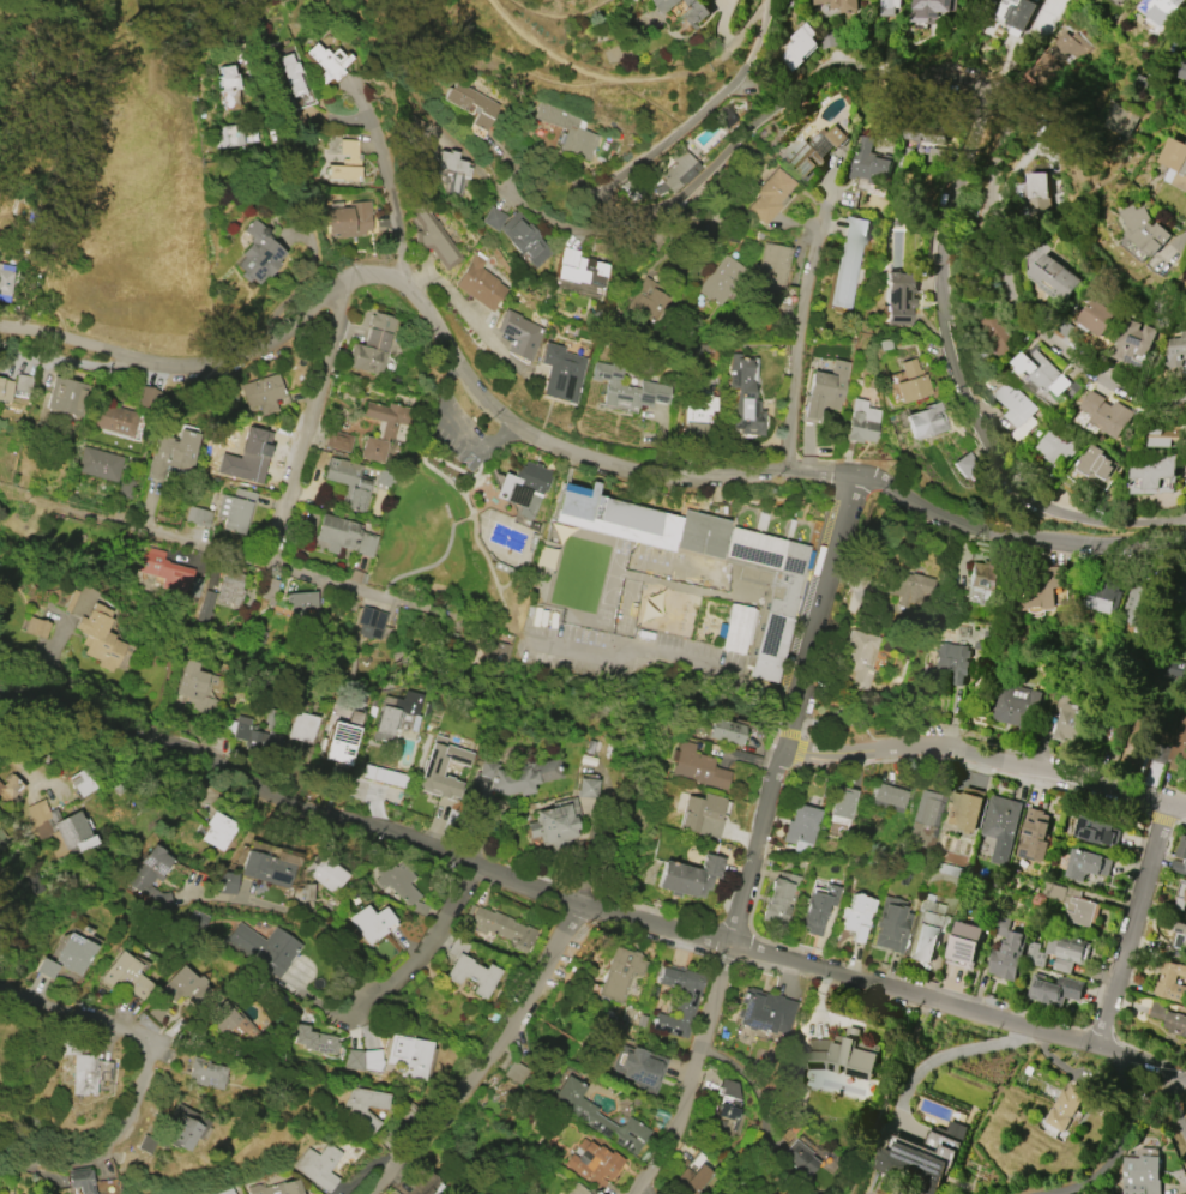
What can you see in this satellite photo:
building: (1126, 0)
building: (1157, 4)
building: (668, 5)
building: (841, 5)
building: (891, 7)
building: (933, 8)
building: (1015, 8)
building: (696, 13)
road: (559, 17)
road: (743, 29)
building: (797, 47)
building: (1056, 60)
building: (327, 62)
building: (1182, 71)
road: (595, 73)
road: (916, 76)
building: (290, 77)
building: (228, 88)
building: (470, 103)
building: (724, 116)
building: (1122, 121)
building: (413, 126)
building: (568, 132)
building: (227, 135)
building: (249, 135)
building: (935, 147)
building: (811, 150)
building: (868, 158)
building: (345, 163)
building: (1174, 163)
building: (450, 169)
building: (676, 169)
road: (387, 179)
building: (770, 197)
building: (1040, 197)
building: (492, 218)
building: (348, 219)
building: (1145, 229)
road: (1184, 234)
building: (433, 236)
building: (524, 239)
building: (258, 253)
building: (849, 259)
building: (578, 267)
building: (770, 269)
building: (1054, 278)
building: (5, 279)
building: (721, 279)
building: (478, 283)
road: (1011, 293)
building: (648, 295)
building: (899, 296)
road: (805, 309)
road: (466, 313)
building: (1095, 316)
building: (517, 333)
building: (998, 334)
building: (1131, 344)
building: (371, 345)
building: (1176, 354)
building: (559, 373)
building: (1042, 374)
building: (22, 382)
building: (911, 382)
building: (5, 388)
building: (626, 388)
building: (824, 391)
building: (1070, 391)
building: (261, 393)
building: (66, 397)
building: (743, 398)
building: (1016, 408)
building: (699, 411)
building: (1106, 414)
building: (113, 418)
road: (311, 421)
building: (923, 421)
building: (861, 422)
building: (383, 428)
road: (457, 429)
building: (337, 440)
road: (546, 442)
building: (1056, 445)
building: (170, 452)
building: (1096, 462)
building: (98, 464)
building: (1152, 474)
building: (381, 478)
building: (348, 481)
building: (522, 492)
building: (234, 509)
building: (198, 515)
building: (614, 518)
building: (337, 533)
building: (698, 533)
building: (365, 544)
building: (161, 569)
road: (301, 573)
building: (983, 575)
building: (907, 585)
building: (229, 586)
building: (269, 589)
building: (769, 590)
building: (1038, 590)
building: (1104, 593)
building: (301, 601)
building: (1140, 605)
building: (205, 607)
building: (654, 613)
building: (371, 623)
building: (36, 627)
building: (94, 628)
building: (735, 628)
building: (494, 655)
building: (859, 657)
building: (951, 659)
road: (661, 669)
building: (1169, 669)
building: (195, 688)
building: (1015, 705)
road: (794, 711)
building: (393, 714)
building: (1070, 723)
building: (302, 726)
building: (726, 731)
building: (257, 736)
building: (342, 738)
building: (1131, 746)
building: (1178, 746)
road: (987, 756)
building: (698, 767)
building: (429, 771)
building: (80, 782)
building: (505, 783)
building: (10, 788)
building: (585, 788)
building: (886, 797)
building: (841, 804)
building: (964, 809)
building: (702, 815)
building: (923, 819)
building: (555, 825)
building: (800, 825)
building: (1000, 826)
building: (60, 830)
building: (218, 831)
building: (1096, 831)
building: (1034, 836)
building: (1180, 857)
building: (1086, 864)
building: (267, 867)
building: (323, 872)
building: (150, 876)
building: (688, 876)
building: (396, 881)
building: (35, 882)
building: (225, 882)
building: (1181, 895)
building: (777, 899)
building: (1071, 901)
road: (585, 905)
building: (818, 905)
road: (306, 913)
building: (855, 916)
building: (197, 919)
building: (367, 924)
building: (891, 924)
road: (1133, 925)
building: (502, 928)
building: (928, 929)
building: (1178, 941)
building: (964, 945)
road: (423, 946)
building: (264, 947)
building: (1006, 951)
building: (1066, 952)
building: (73, 954)
building: (1034, 954)
building: (46, 967)
building: (469, 970)
building: (620, 972)
building: (126, 981)
building: (1170, 982)
building: (183, 988)
building: (1053, 990)
building: (679, 1000)
building: (766, 1012)
building: (626, 1013)
building: (222, 1017)
building: (1168, 1018)
building: (314, 1041)
building: (844, 1053)
building: (409, 1056)
road: (488, 1056)
road: (940, 1057)
building: (353, 1060)
building: (373, 1060)
building: (83, 1067)
building: (637, 1067)
road: (301, 1071)
road: (693, 1071)
building: (516, 1073)
building: (207, 1074)
road: (142, 1077)
road: (752, 1080)
road: (890, 1096)
building: (363, 1106)
building: (726, 1108)
road: (1126, 1109)
building: (1064, 1110)
road: (1179, 1110)
building: (594, 1115)
building: (182, 1133)
building: (145, 1144)
building: (799, 1160)
building: (594, 1163)
building: (318, 1165)
building: (909, 1169)
road: (658, 1172)
building: (1140, 1175)
building: (80, 1180)
building: (693, 1180)
building: (425, 1184)
building: (276, 1188)
building: (578, 1189)
building: (227, 1192)
building: (785, 1193)
building: (788, 1193)

